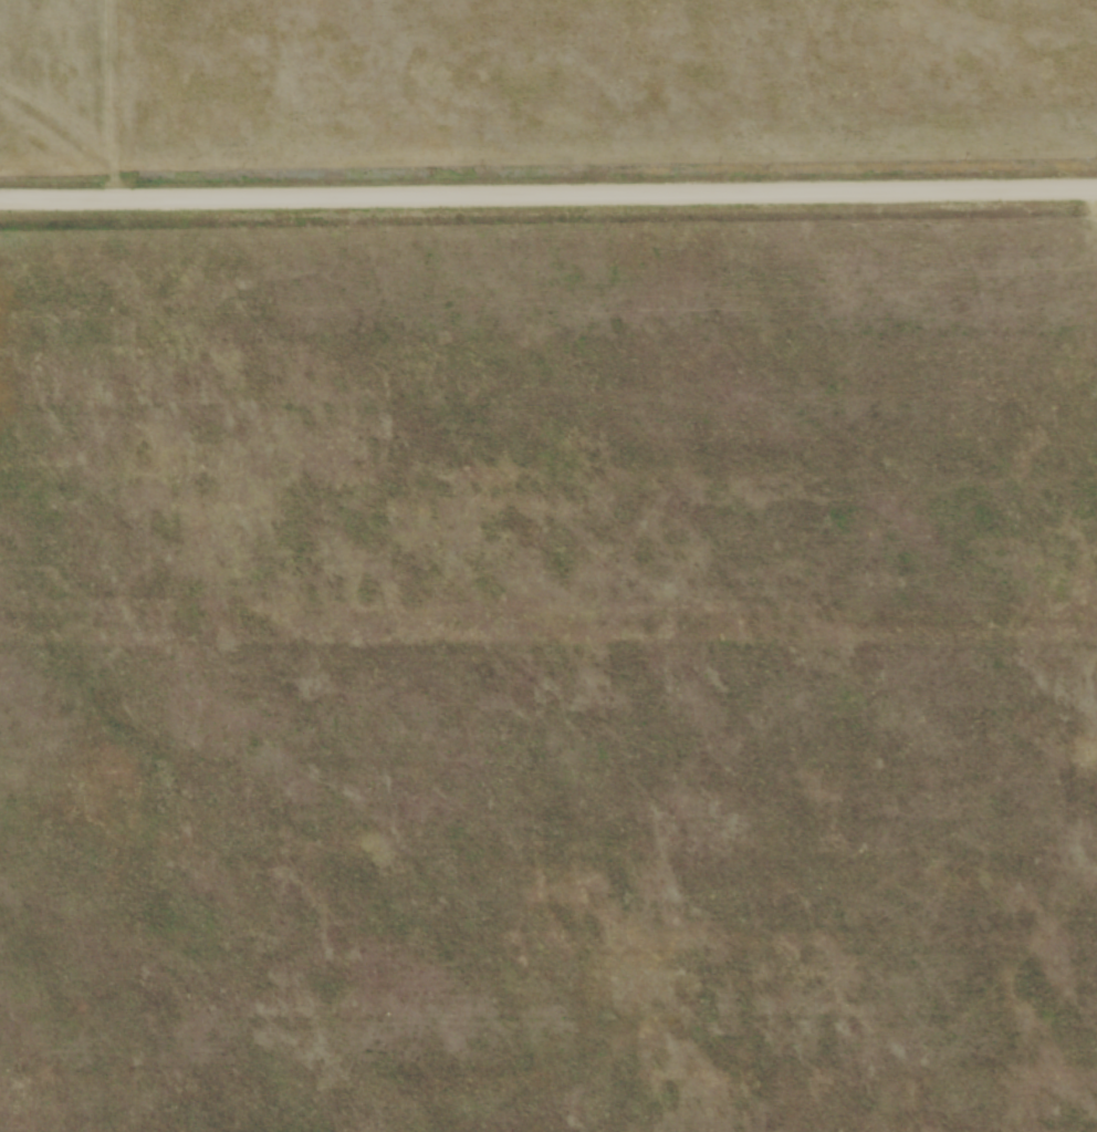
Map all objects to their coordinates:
road: (547, 195)

